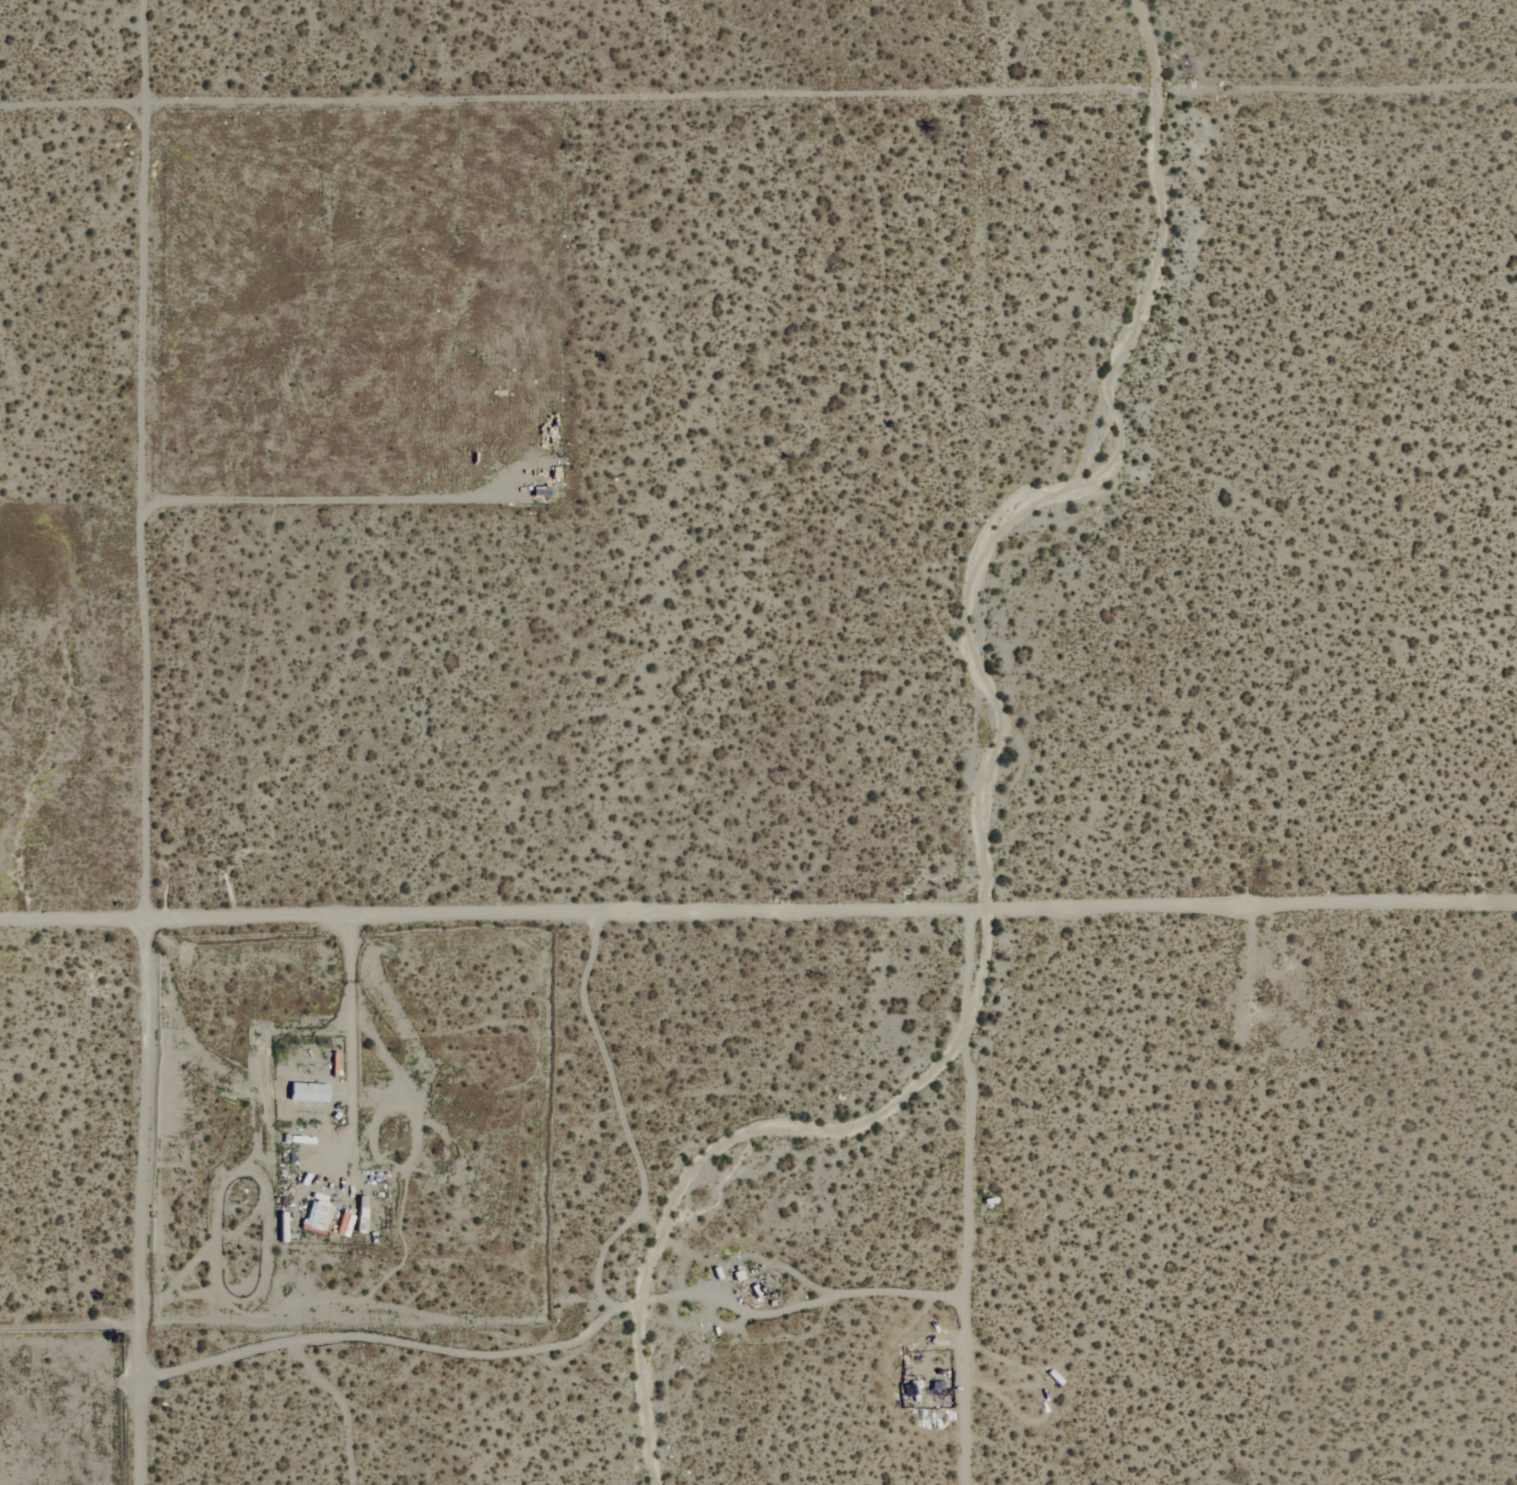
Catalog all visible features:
road: (143, 52)
road: (1246, 95)
road: (487, 102)
road: (144, 516)
road: (976, 792)
road: (758, 924)
road: (351, 1053)
building: (307, 1092)
road: (143, 1206)
road: (564, 1341)

